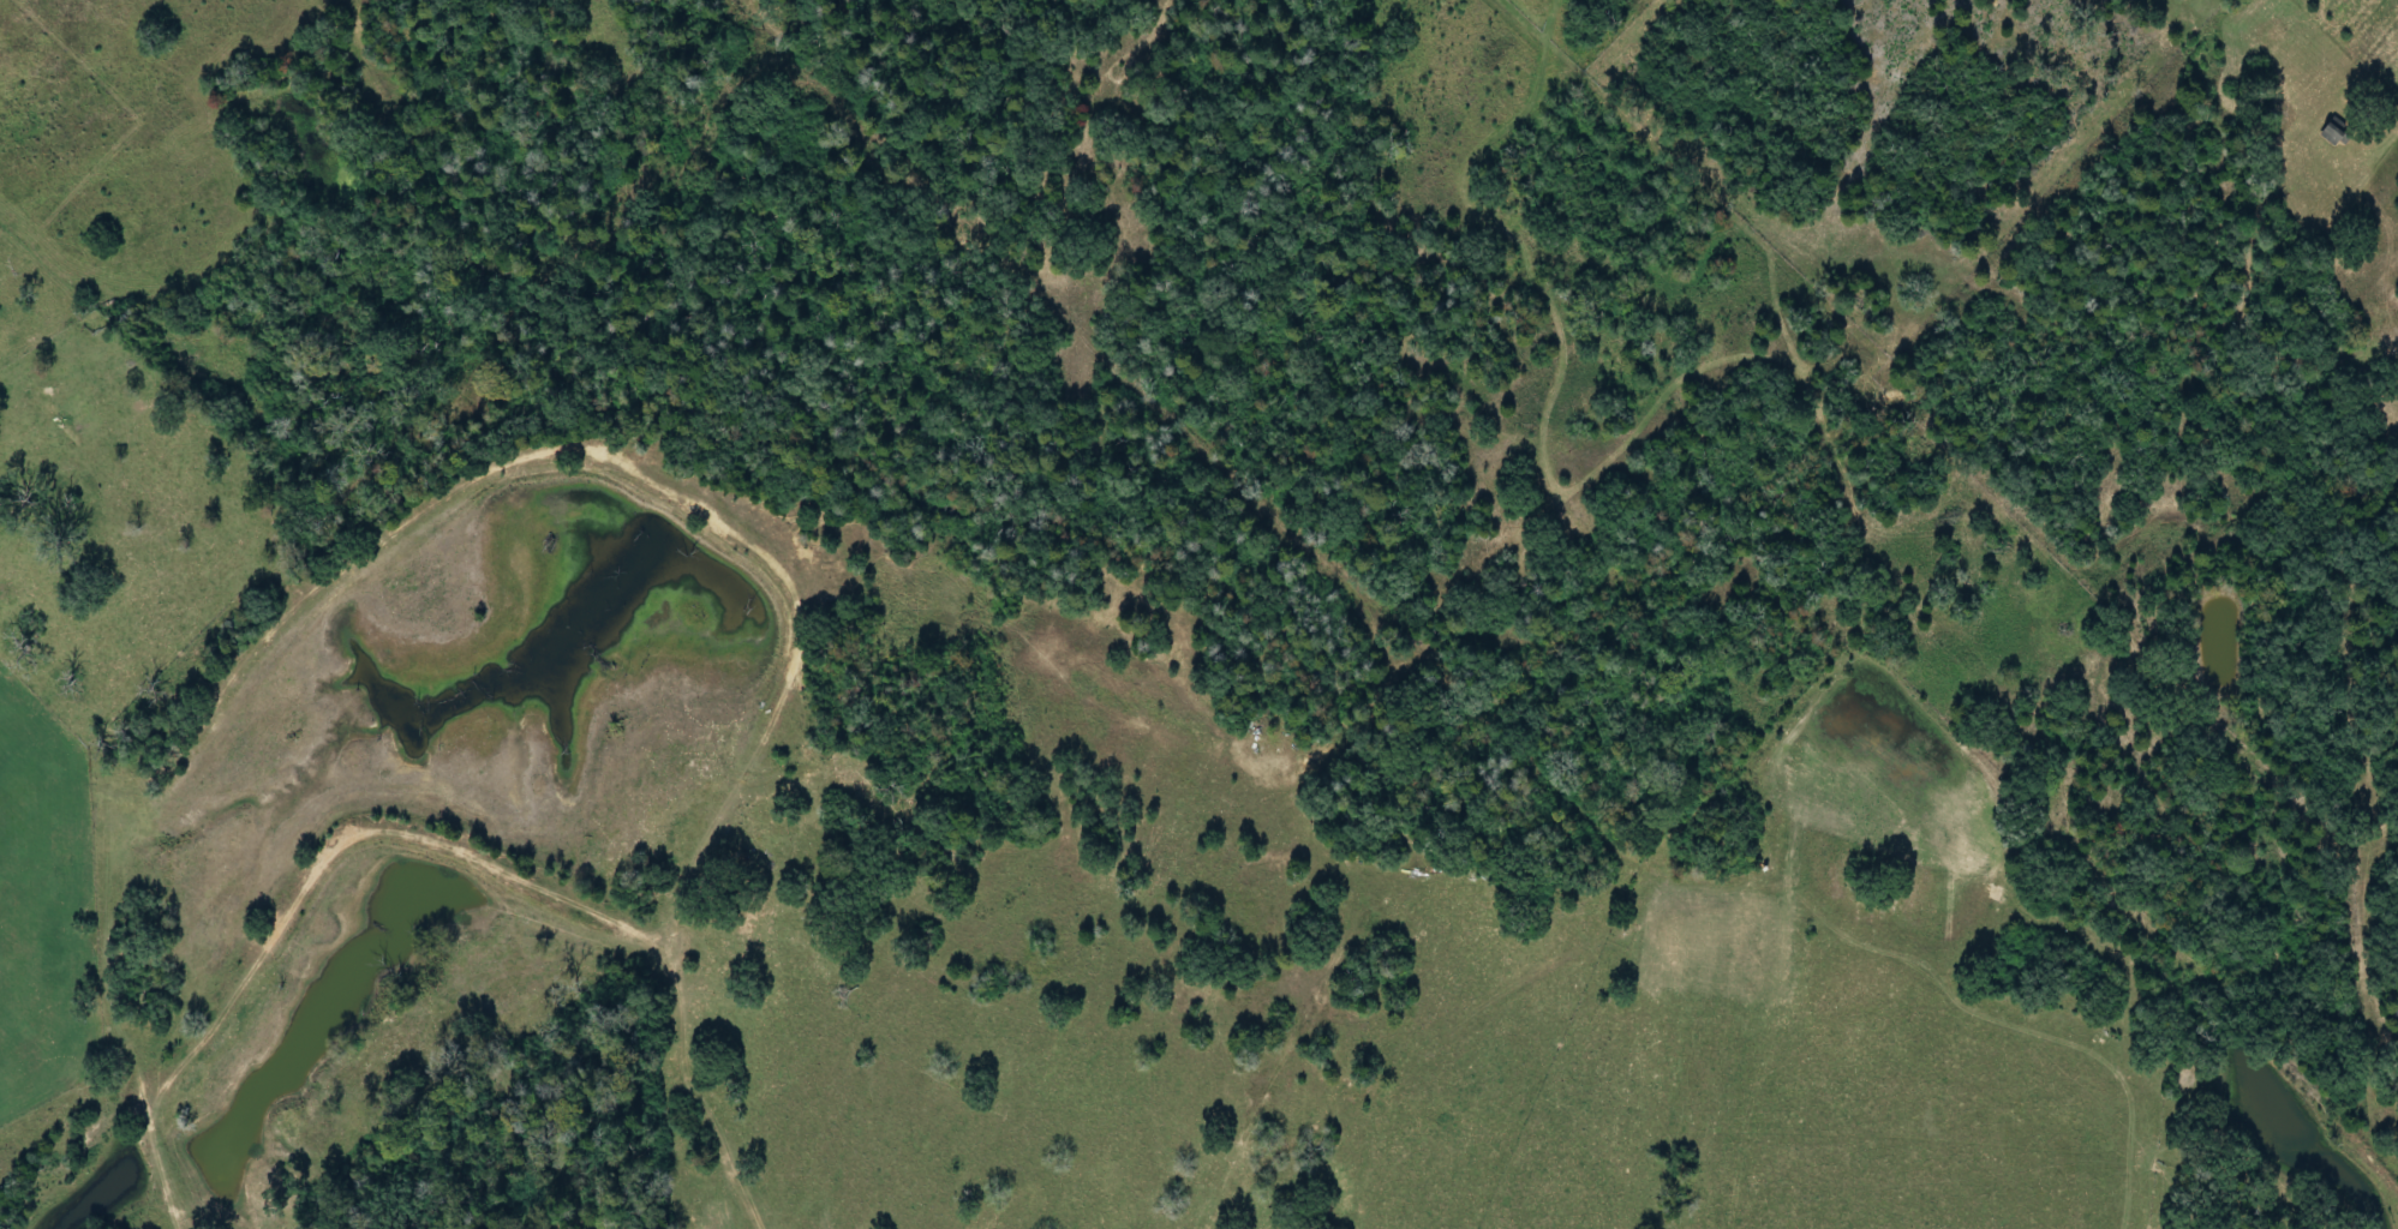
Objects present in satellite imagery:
building: (2332, 132)
road: (754, 551)
road: (313, 874)

